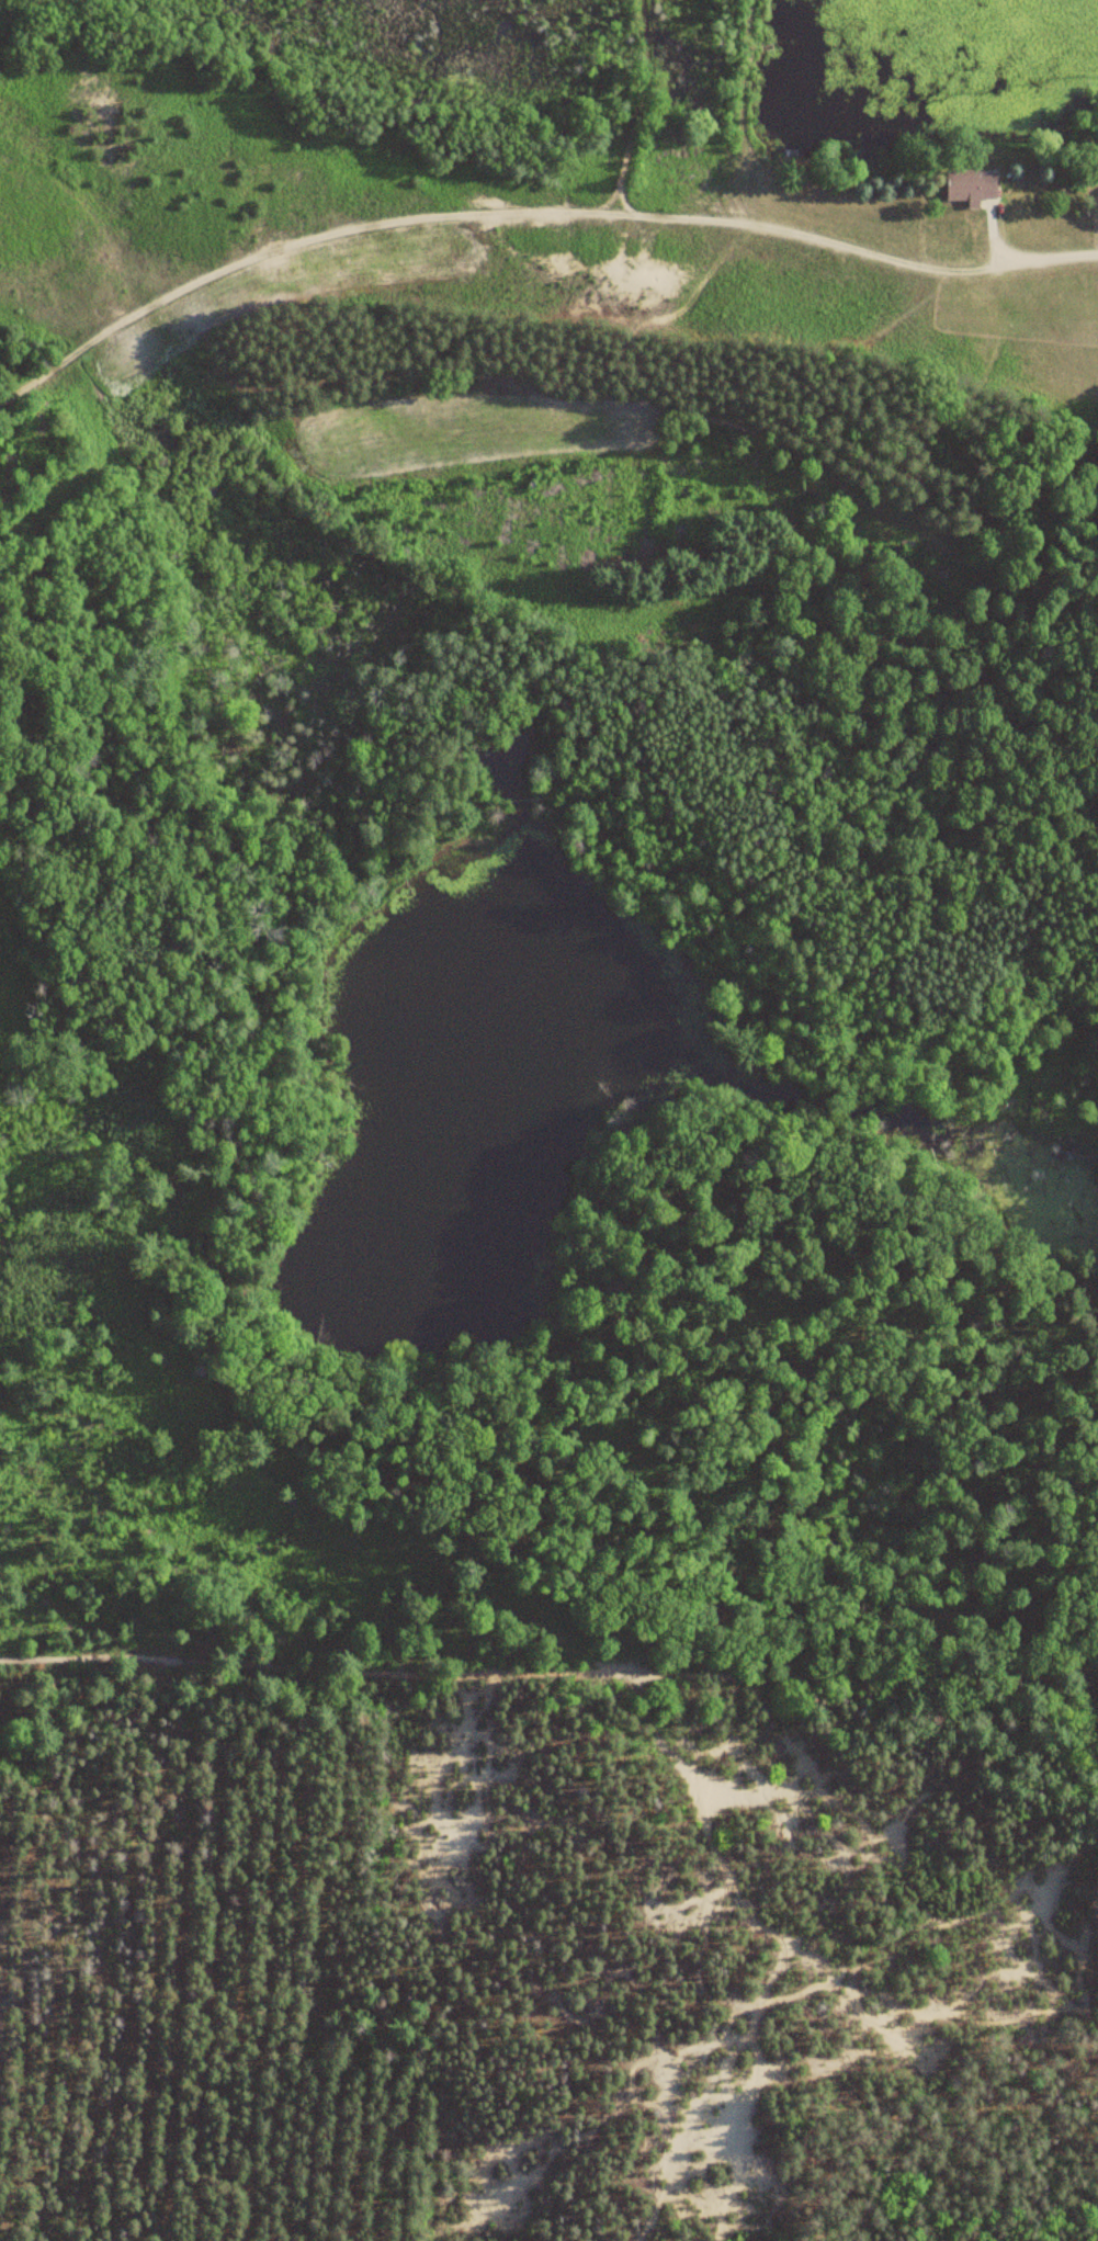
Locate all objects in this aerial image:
building: (969, 185)
road: (529, 215)
road: (548, 1672)

